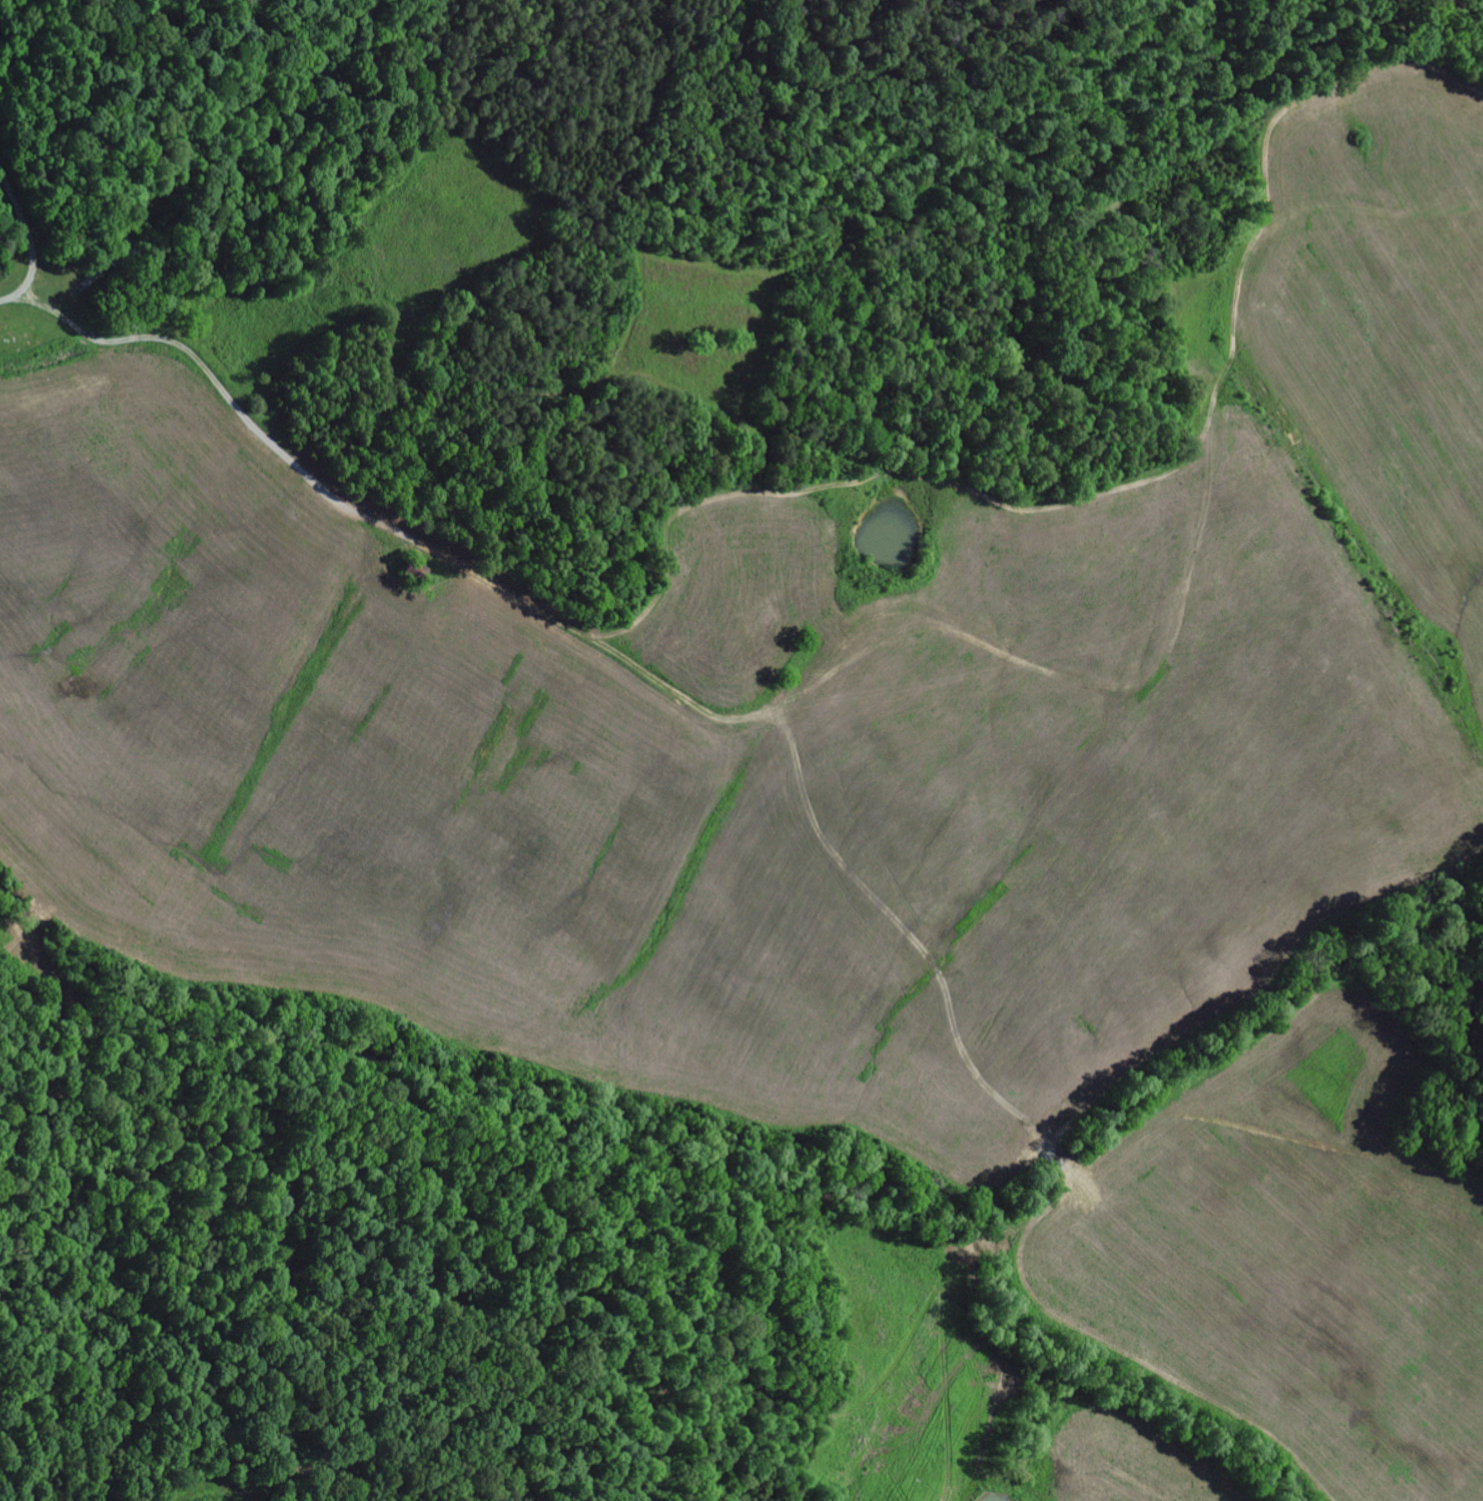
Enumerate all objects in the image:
road: (288, 456)
road: (950, 1013)

